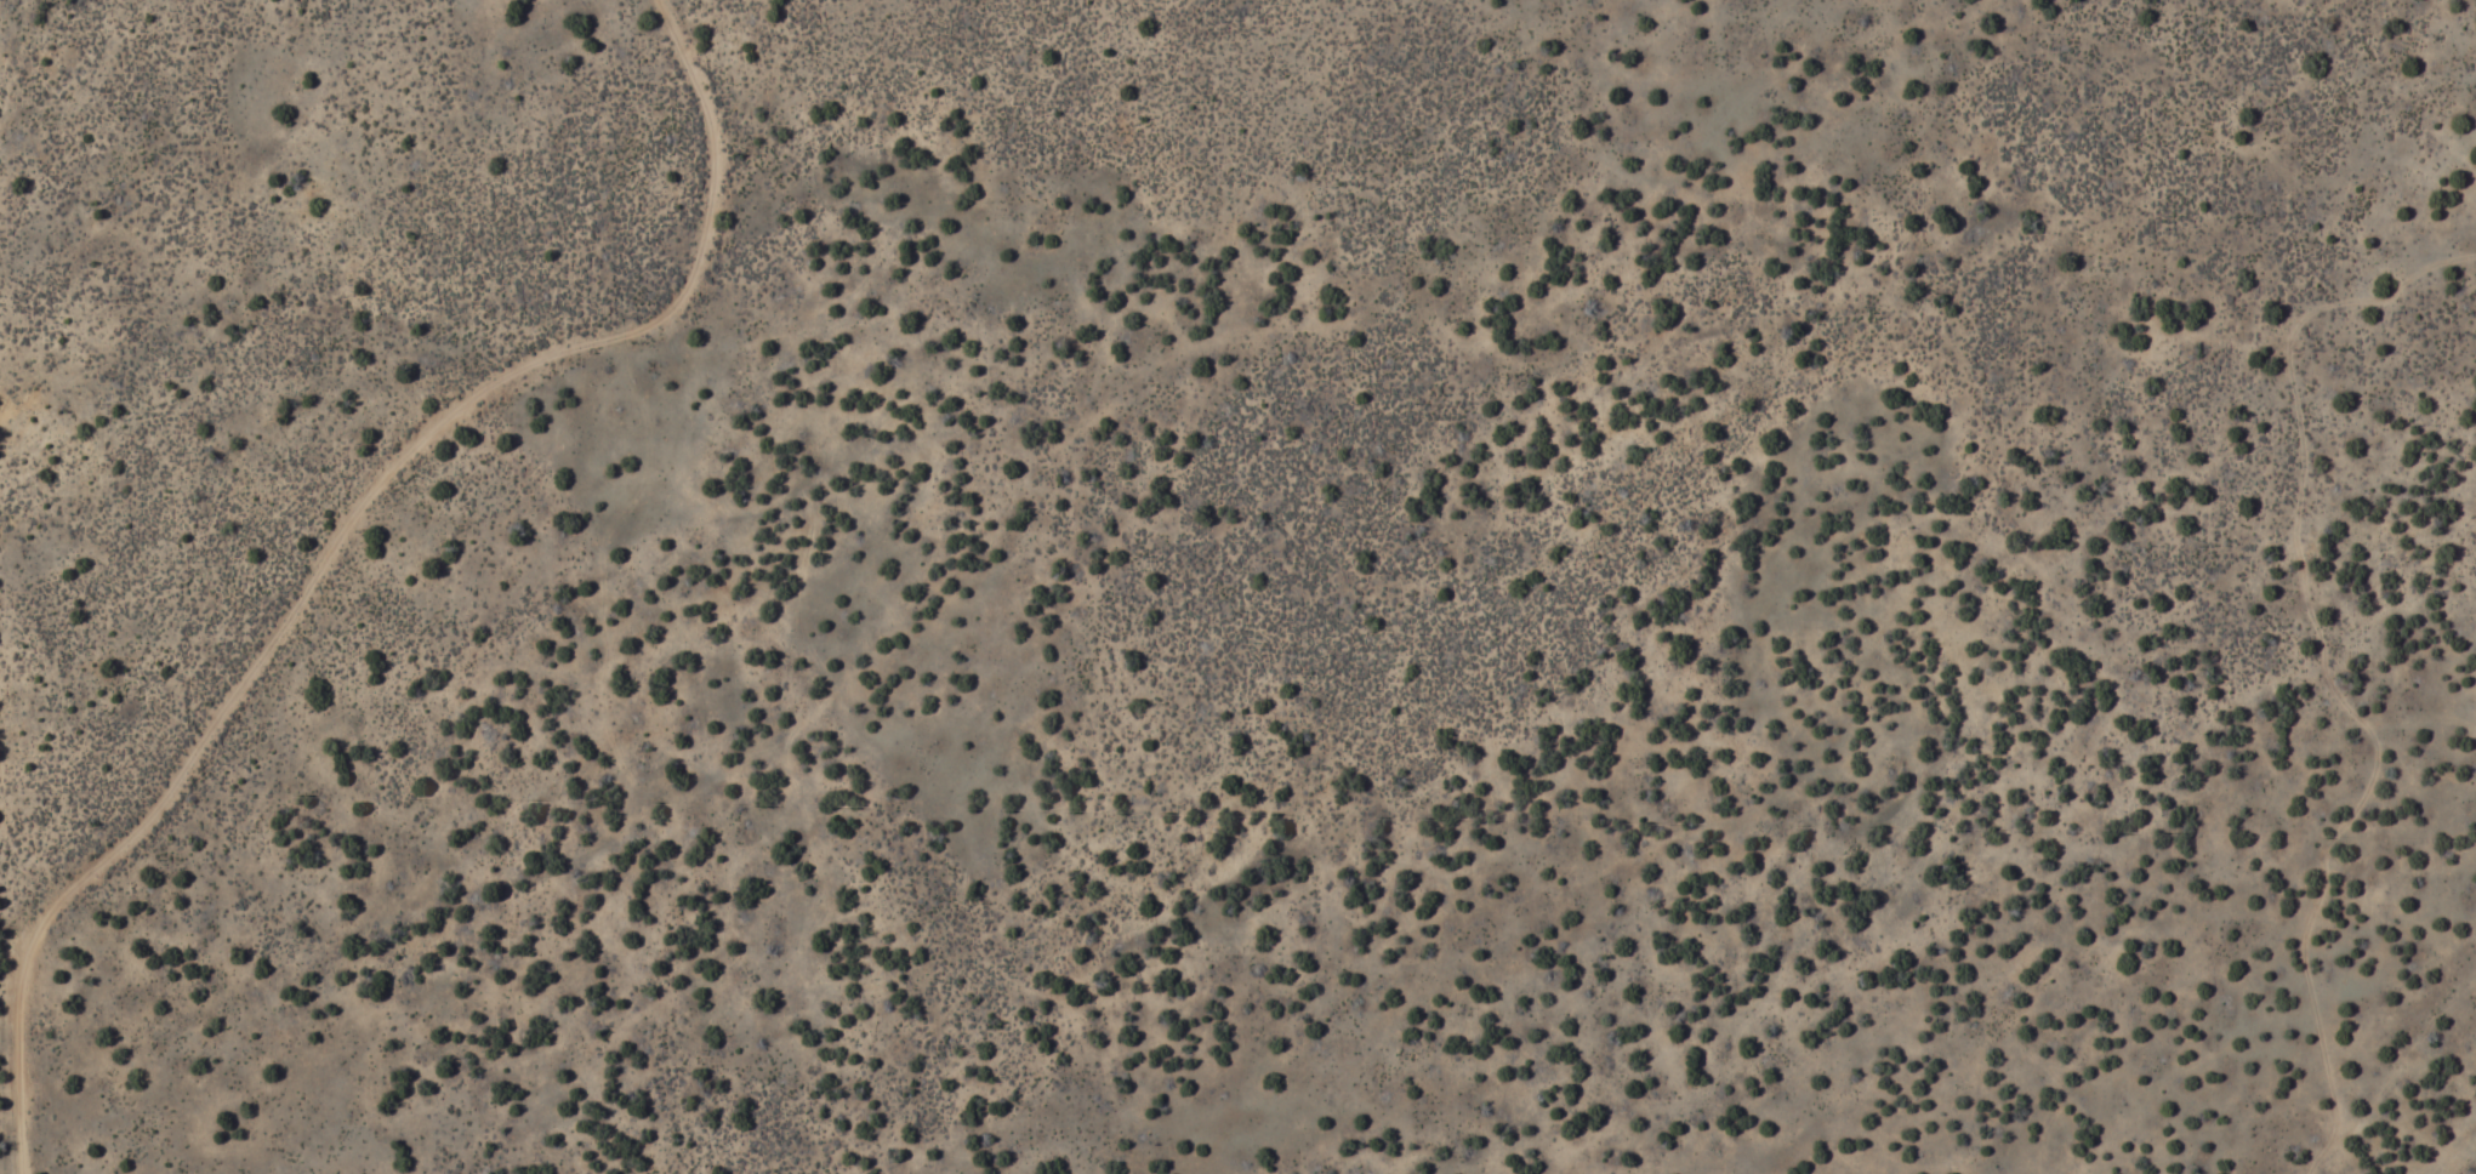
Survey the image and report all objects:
road: (337, 557)

